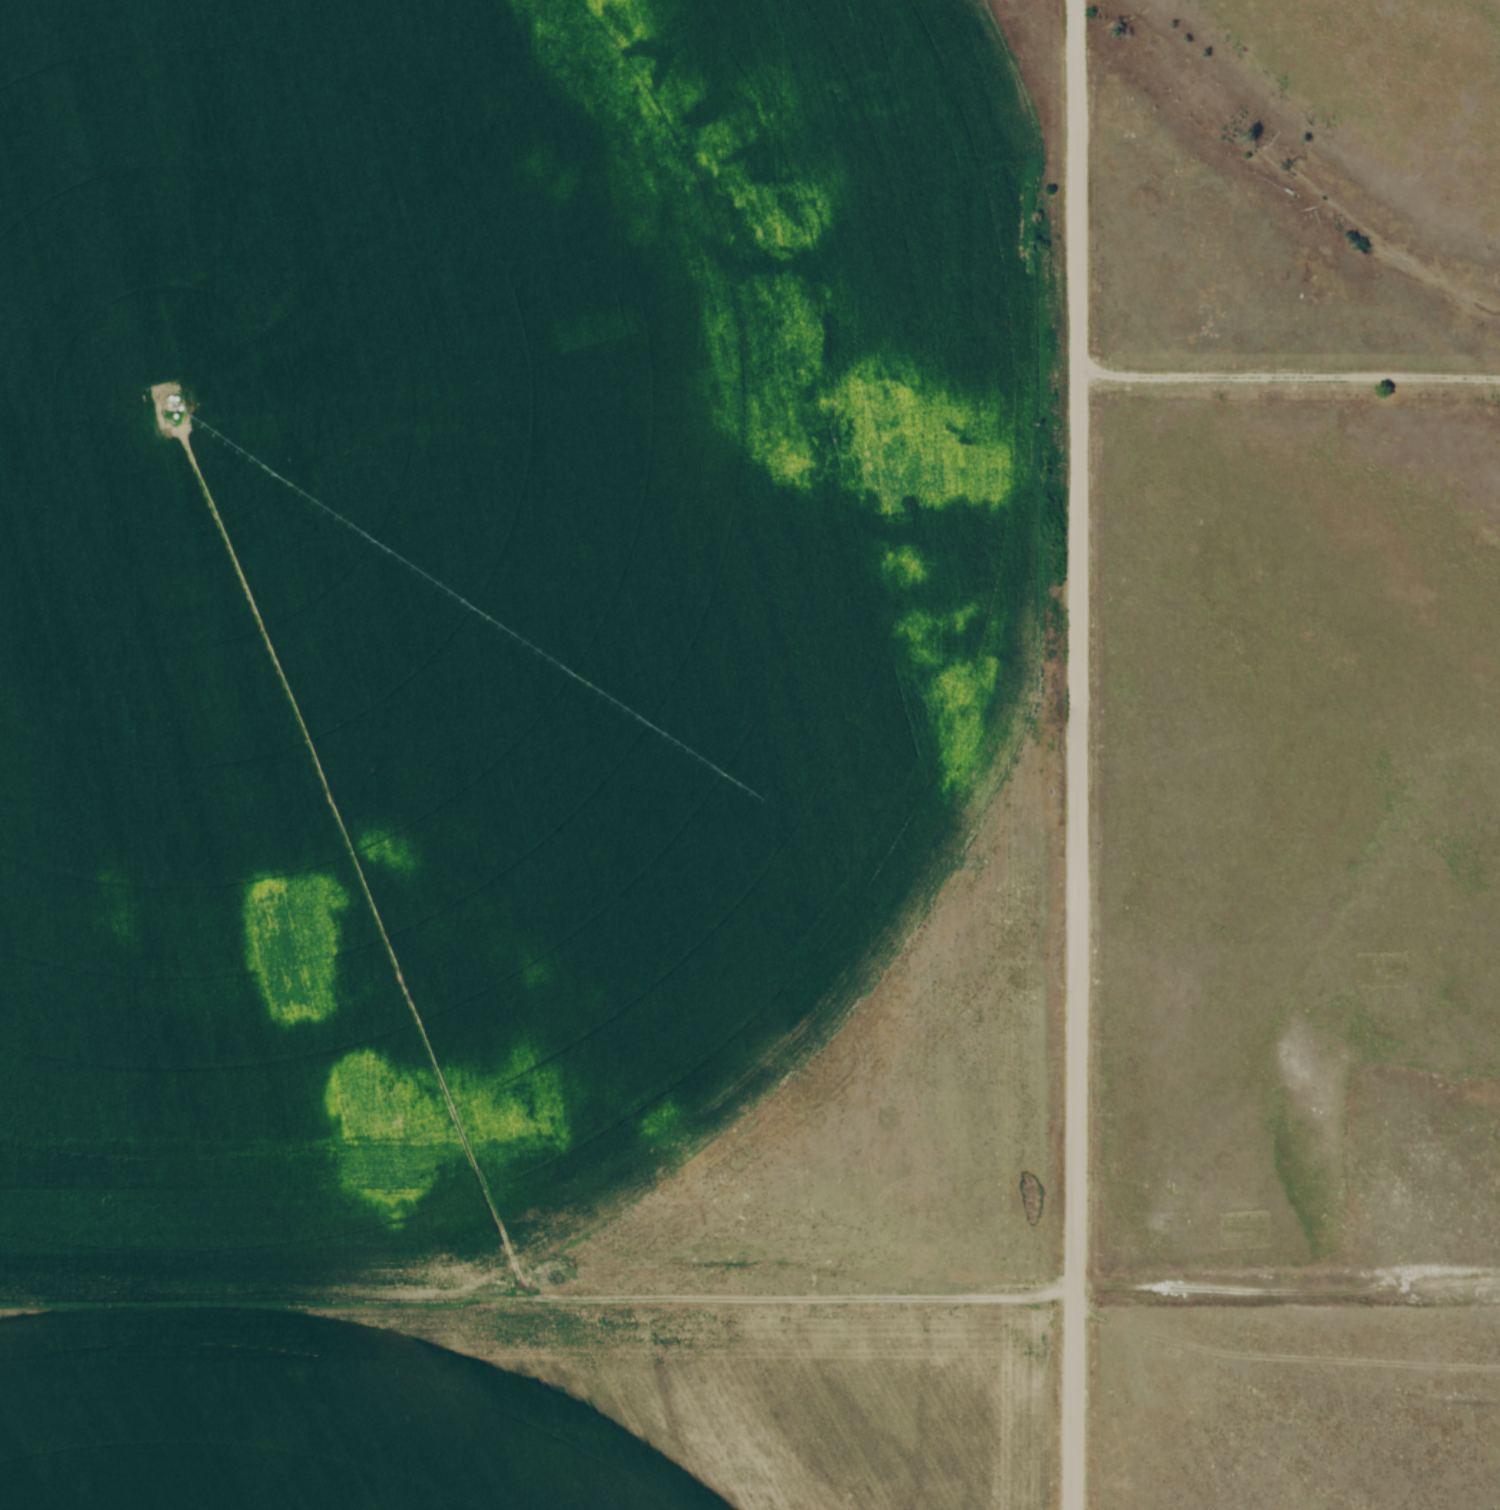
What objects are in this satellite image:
road: (1288, 377)
road: (1076, 755)

